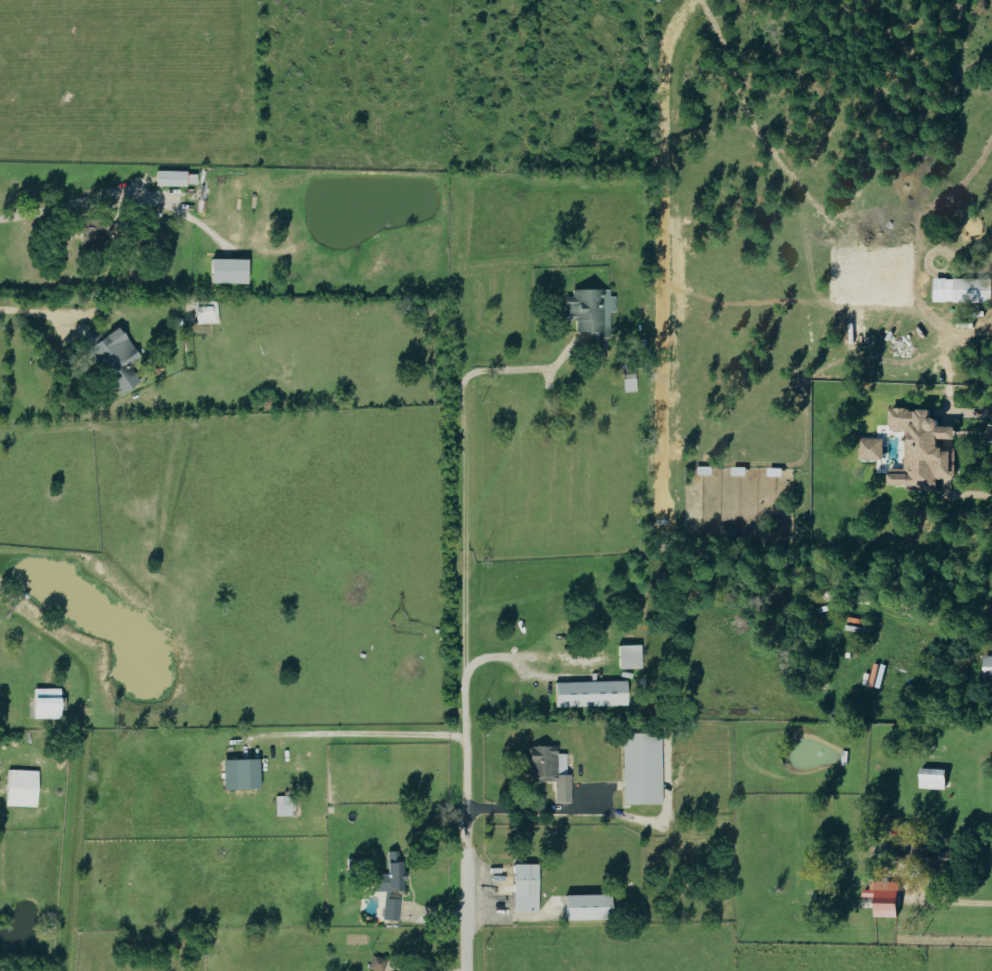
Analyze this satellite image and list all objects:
building: (170, 178)
road: (72, 202)
building: (94, 233)
building: (226, 271)
building: (962, 290)
road: (22, 309)
building: (206, 313)
building: (589, 314)
road: (947, 350)
building: (870, 449)
building: (920, 451)
road: (461, 479)
road: (526, 656)
building: (628, 656)
building: (987, 667)
building: (589, 694)
building: (45, 703)
road: (359, 733)
building: (639, 769)
building: (548, 770)
building: (238, 775)
building: (931, 779)
building: (20, 788)
building: (284, 806)
road: (535, 811)
road: (467, 817)
building: (941, 859)
building: (390, 874)
building: (523, 889)
building: (882, 899)
road: (978, 902)
building: (584, 907)
building: (390, 909)
building: (375, 963)

